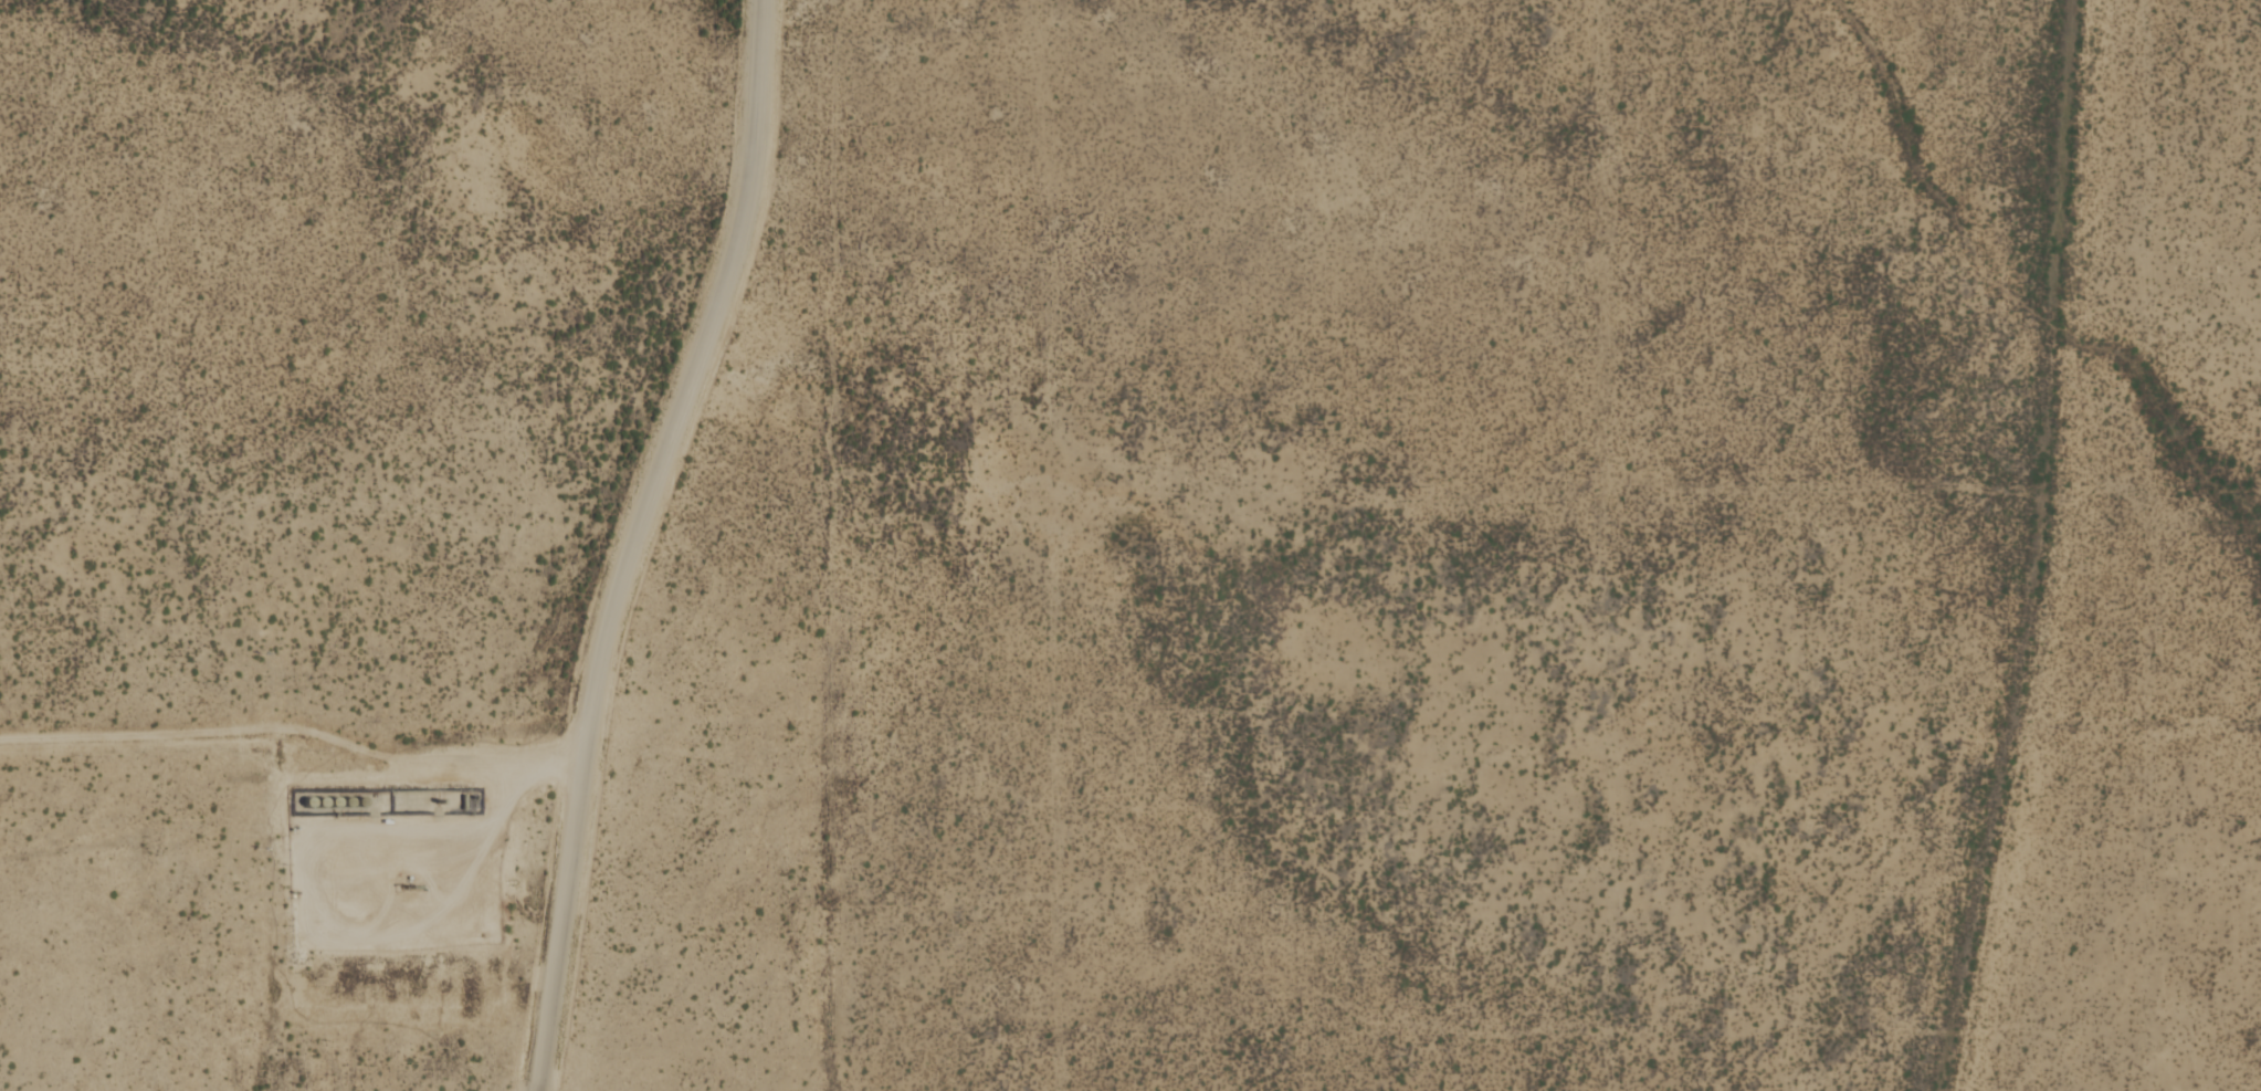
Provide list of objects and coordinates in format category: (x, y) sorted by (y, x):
road: (635, 541)
road: (466, 847)

